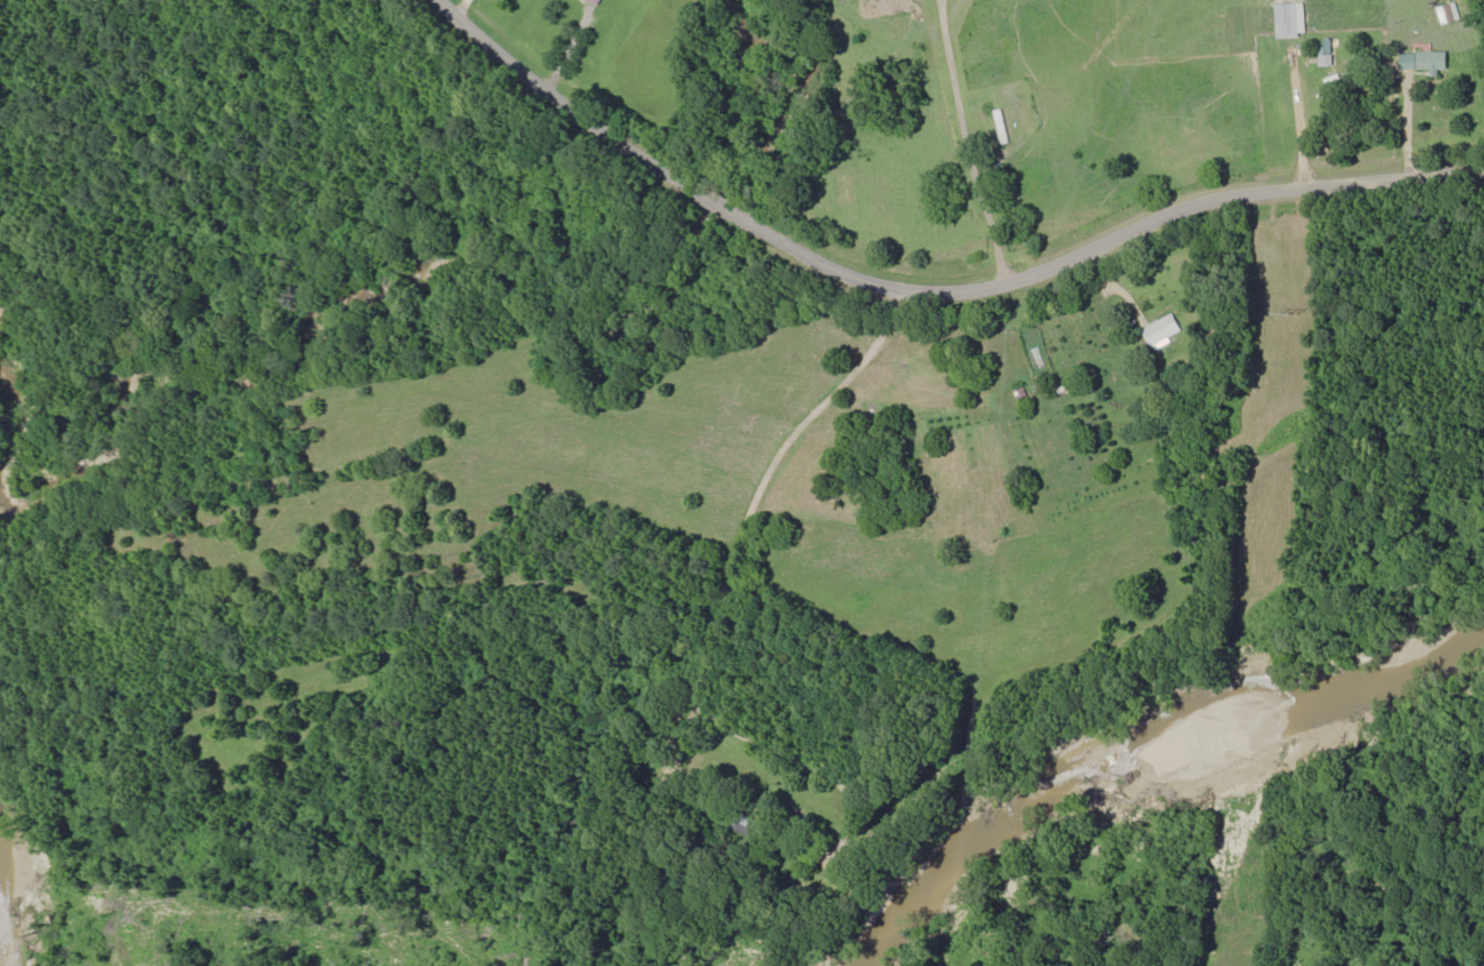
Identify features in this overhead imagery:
building: (597, 2)
building: (1291, 20)
building: (1424, 62)
building: (1003, 127)
road: (945, 254)
building: (1163, 332)
building: (1040, 361)
road: (733, 599)
building: (749, 827)

